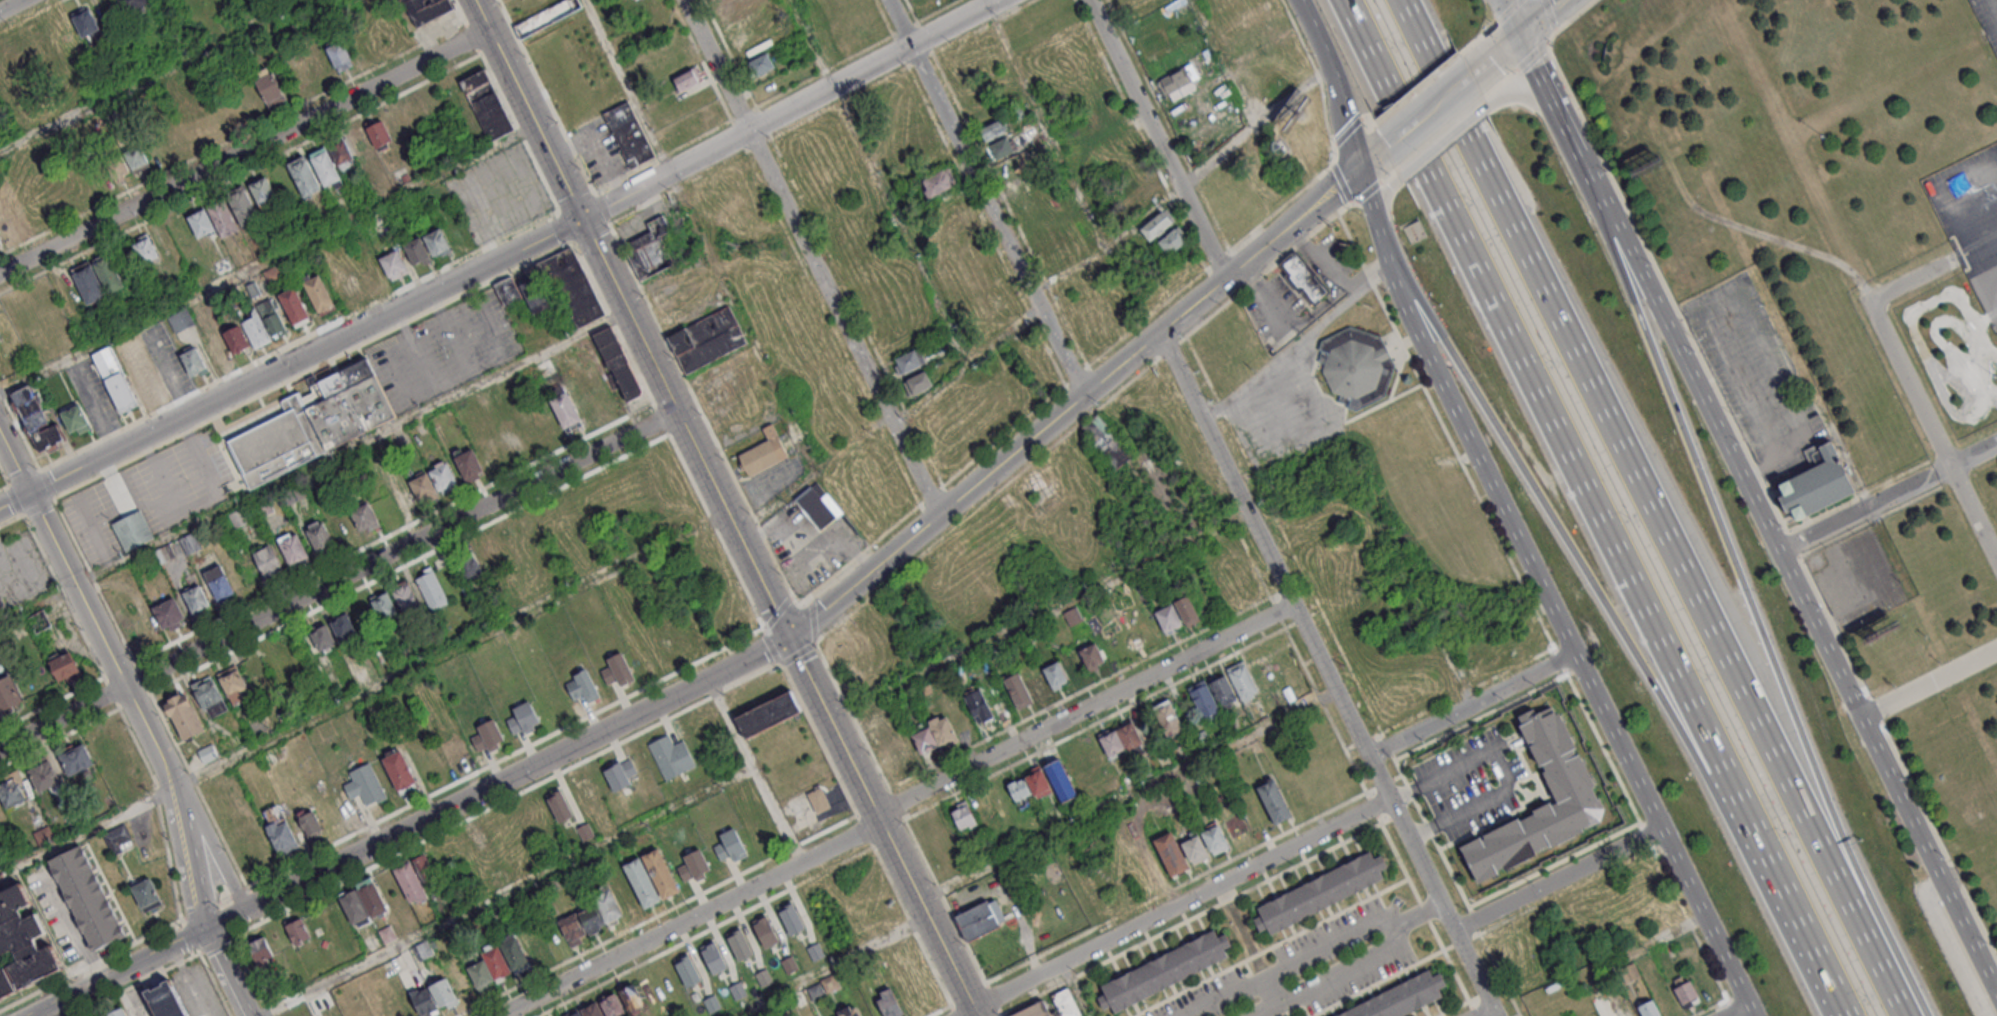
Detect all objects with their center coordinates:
building: (720, 0)
building: (132, 4)
road: (12, 6)
crop: (524, 6)
road: (1992, 8)
building: (426, 9)
road: (936, 11)
building: (545, 16)
road: (1514, 20)
road: (1548, 20)
building: (85, 22)
parking lot: (1986, 22)
road: (903, 27)
traffic signals: (1524, 41)
building: (751, 43)
building: (340, 55)
road: (1499, 61)
building: (761, 63)
building: (321, 64)
road: (1224, 64)
road: (823, 69)
road: (1539, 76)
road: (154, 77)
building: (687, 78)
building: (1179, 80)
road: (1335, 84)
building: (269, 86)
road: (1517, 92)
road: (1449, 101)
building: (486, 104)
road: (788, 108)
road: (526, 109)
road: (742, 112)
building: (208, 116)
road: (1045, 126)
building: (992, 130)
building: (379, 133)
building: (628, 133)
road: (1407, 135)
building: (172, 136)
road: (1159, 138)
road: (1442, 140)
building: (919, 145)
building: (1000, 147)
building: (340, 151)
road: (244, 152)
road: (661, 154)
building: (136, 159)
road: (1374, 161)
building: (119, 168)
building: (326, 168)
traffic signals: (1359, 174)
building: (304, 175)
building: (938, 181)
road: (878, 182)
road: (681, 184)
road: (1185, 184)
building: (57, 189)
building: (263, 192)
building: (1141, 193)
road: (989, 196)
road: (574, 199)
road: (1383, 199)
road: (1951, 201)
road: (1370, 203)
building: (242, 205)
road: (600, 207)
building: (222, 217)
building: (6, 218)
parking lot: (1972, 221)
building: (202, 223)
road: (563, 225)
building: (1157, 225)
road: (589, 233)
road: (700, 236)
building: (1172, 240)
building: (436, 241)
building: (652, 247)
road: (1965, 249)
building: (146, 250)
building: (416, 250)
road: (810, 257)
road: (268, 261)
road: (1316, 261)
building: (394, 264)
road: (1265, 271)
building: (108, 274)
building: (272, 274)
road: (1914, 276)
building: (1304, 280)
building: (89, 284)
building: (348, 284)
building: (253, 288)
building: (507, 290)
building: (318, 293)
building: (537, 298)
building: (294, 306)
building: (271, 317)
building: (179, 321)
road: (1309, 321)
road: (612, 323)
building: (256, 330)
road: (297, 339)
building: (709, 339)
road: (1302, 342)
road: (1169, 350)
building: (218, 353)
building: (908, 361)
building: (193, 362)
road: (290, 362)
building: (617, 364)
road: (969, 364)
road: (311, 368)
road: (1773, 369)
building: (1352, 370)
building: (115, 378)
building: (918, 381)
building: (143, 382)
building: (1005, 398)
road: (1072, 404)
building: (348, 405)
building: (29, 407)
road: (700, 409)
building: (564, 410)
building: (75, 419)
road: (659, 419)
building: (529, 426)
road: (683, 427)
road: (1559, 427)
road: (1933, 431)
building: (47, 435)
building: (510, 439)
building: (1106, 442)
building: (278, 444)
building: (765, 453)
building: (469, 464)
road: (313, 468)
road: (813, 475)
road: (22, 476)
building: (645, 476)
building: (442, 477)
road: (3, 478)
road: (45, 483)
building: (1816, 483)
road: (3, 486)
building: (422, 486)
building: (403, 497)
road: (1887, 497)
road: (13, 499)
road: (986, 499)
road: (38, 506)
building: (264, 506)
building: (819, 507)
road: (1651, 507)
building: (238, 517)
building: (364, 518)
road: (11, 519)
building: (552, 524)
building: (132, 530)
road: (714, 531)
building: (319, 536)
building: (190, 543)
building: (507, 545)
road: (1570, 548)
building: (293, 549)
road: (1778, 552)
building: (164, 553)
building: (486, 555)
road: (855, 558)
building: (267, 561)
road: (1732, 561)
building: (467, 565)
road: (337, 579)
building: (219, 582)
road: (95, 583)
road: (1417, 583)
building: (431, 590)
building: (405, 596)
building: (196, 598)
road: (64, 599)
road: (85, 602)
building: (382, 605)
building: (1186, 610)
road: (777, 611)
building: (169, 613)
building: (1072, 615)
road: (1039, 617)
building: (1167, 618)
road: (812, 620)
building: (39, 621)
road: (1562, 626)
building: (343, 627)
traffic signals: (787, 636)
building: (323, 637)
building: (677, 639)
road: (771, 646)
road: (451, 649)
building: (661, 650)
road: (796, 652)
building: (1091, 655)
building: (280, 658)
building: (63, 665)
building: (616, 669)
building: (1054, 673)
road: (1330, 674)
road: (143, 679)
building: (1243, 680)
road: (1928, 683)
building: (233, 684)
building: (1035, 684)
building: (582, 686)
building: (1015, 689)
building: (1223, 690)
road: (112, 694)
building: (10, 696)
building: (209, 697)
building: (1203, 698)
road: (1473, 703)
road: (52, 704)
building: (979, 706)
building: (768, 713)
building: (184, 715)
building: (523, 717)
road: (853, 717)
building: (1168, 718)
building: (941, 729)
building: (487, 735)
building: (1129, 736)
building: (924, 739)
road: (60, 740)
building: (1111, 742)
building: (454, 750)
building: (207, 753)
building: (671, 756)
road: (504, 757)
building: (75, 760)
building: (1559, 761)
road: (1500, 768)
road: (753, 769)
building: (401, 770)
building: (44, 774)
building: (620, 774)
building: (1060, 780)
building: (1037, 782)
building: (365, 785)
road: (197, 787)
building: (587, 791)
building: (1020, 791)
building: (11, 792)
road: (1129, 797)
building: (819, 799)
road: (505, 801)
building: (1273, 801)
road: (163, 806)
building: (560, 806)
road: (893, 806)
road: (898, 806)
building: (538, 813)
building: (963, 816)
building: (74, 820)
building: (311, 825)
road: (410, 826)
road: (881, 826)
building: (278, 828)
road: (86, 831)
building: (585, 831)
building: (44, 834)
building: (480, 836)
building: (116, 837)
building: (1214, 838)
road: (209, 841)
building: (731, 845)
building: (1195, 847)
road: (185, 852)
building: (1170, 854)
building: (694, 866)
building: (424, 867)
building: (661, 873)
road: (1557, 878)
building: (642, 882)
building: (410, 883)
road: (507, 891)
building: (625, 894)
building: (146, 895)
building: (1321, 896)
building: (372, 899)
building: (88, 901)
road: (947, 903)
road: (214, 904)
building: (607, 905)
road: (1180, 905)
building: (354, 907)
road: (1419, 912)
building: (591, 919)
building: (792, 919)
building: (979, 925)
building: (572, 929)
building: (297, 930)
building: (765, 933)
building: (387, 934)
road: (1809, 935)
building: (25, 941)
building: (533, 942)
road: (1644, 943)
road: (215, 944)
building: (739, 944)
building: (422, 949)
road: (1575, 950)
building: (258, 951)
building: (514, 953)
building: (712, 958)
building: (495, 961)
road: (1289, 961)
road: (90, 965)
road: (829, 967)
parking lot: (1310, 967)
building: (686, 971)
road: (224, 972)
building: (480, 973)
building: (1166, 974)
road: (1346, 975)
road: (137, 984)
building: (7, 985)
road: (1076, 990)
building: (1687, 991)
building: (444, 993)
building: (631, 997)
building: (1406, 999)
building: (165, 1000)
road: (996, 1000)
building: (424, 1001)
building: (888, 1002)
building: (712, 1004)
building: (612, 1005)
building: (1052, 1005)
building: (1649, 1008)
building: (592, 1010)
road: (1924, 1010)
building: (115, 1011)
road: (1736, 1011)
building: (850, 1012)
road: (1487, 1012)
building: (577, 1014)
road: (1002, 1015)

